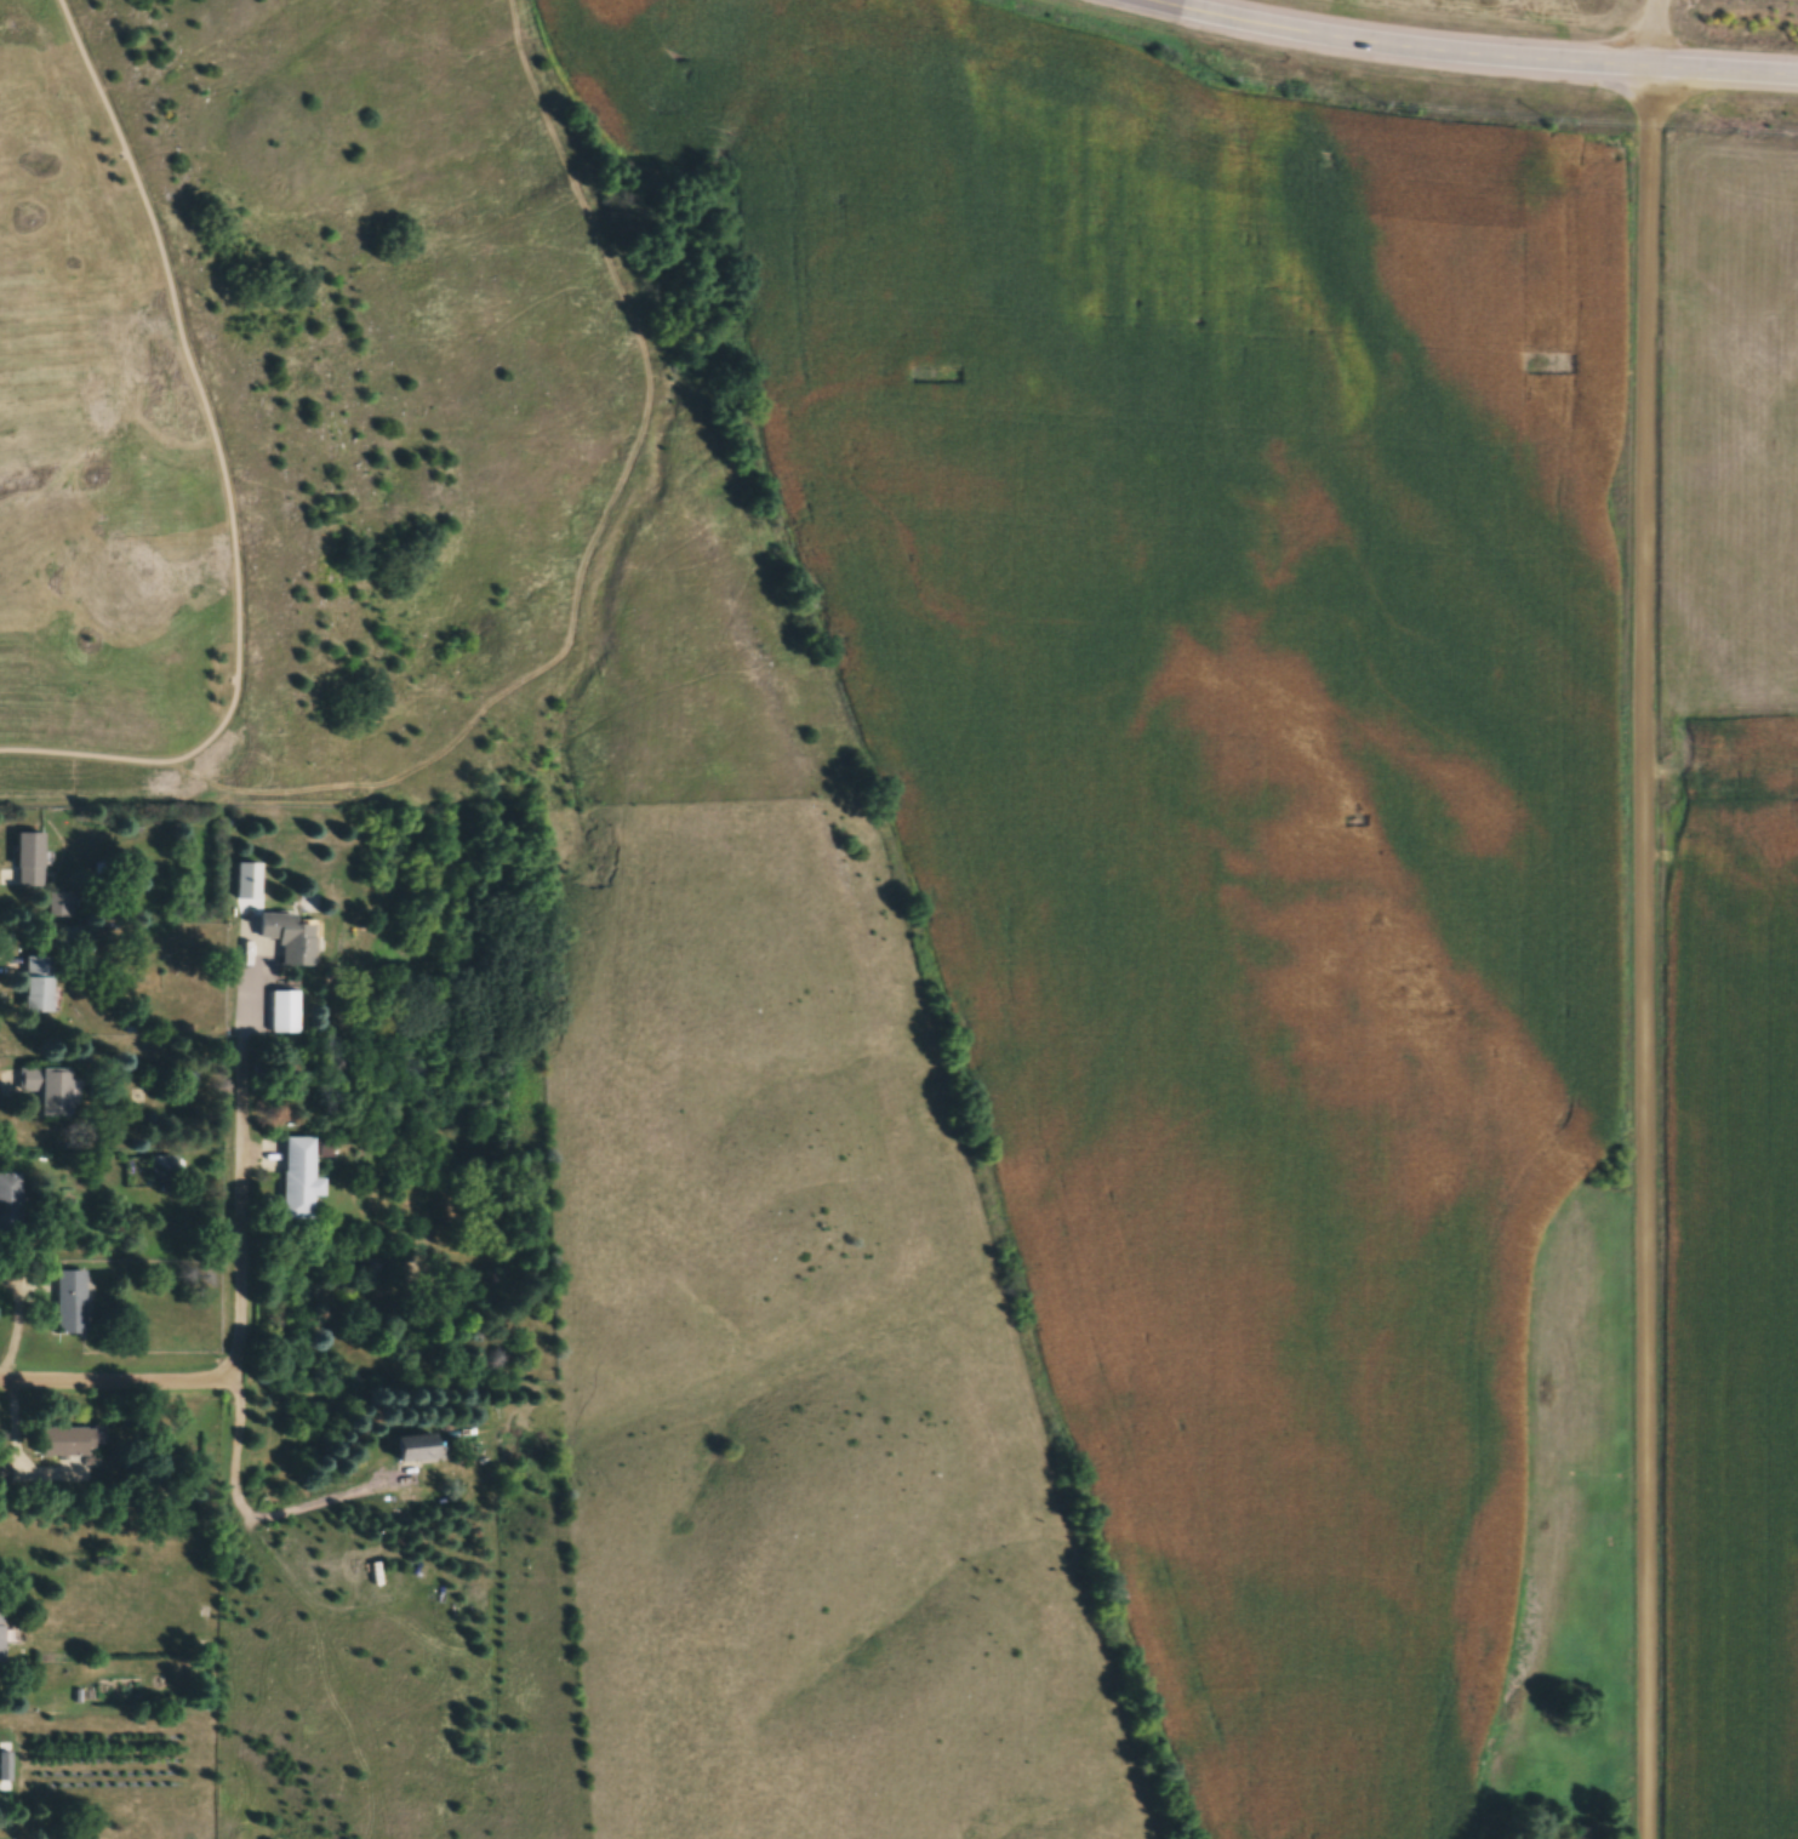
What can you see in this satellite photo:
road: (1651, 33)
road: (1471, 53)
park: (354, 438)
road: (222, 469)
crop: (1214, 783)
building: (32, 859)
building: (64, 907)
building: (70, 938)
building: (292, 940)
road: (1643, 952)
building: (40, 984)
building: (287, 1013)
building: (50, 1090)
road: (242, 1156)
building: (165, 1170)
building: (302, 1180)
building: (11, 1205)
building: (73, 1302)
crop: (1731, 1326)
road: (127, 1381)
building: (67, 1443)
building: (418, 1450)
building: (5, 1472)
road: (238, 1501)
building: (2, 1635)

